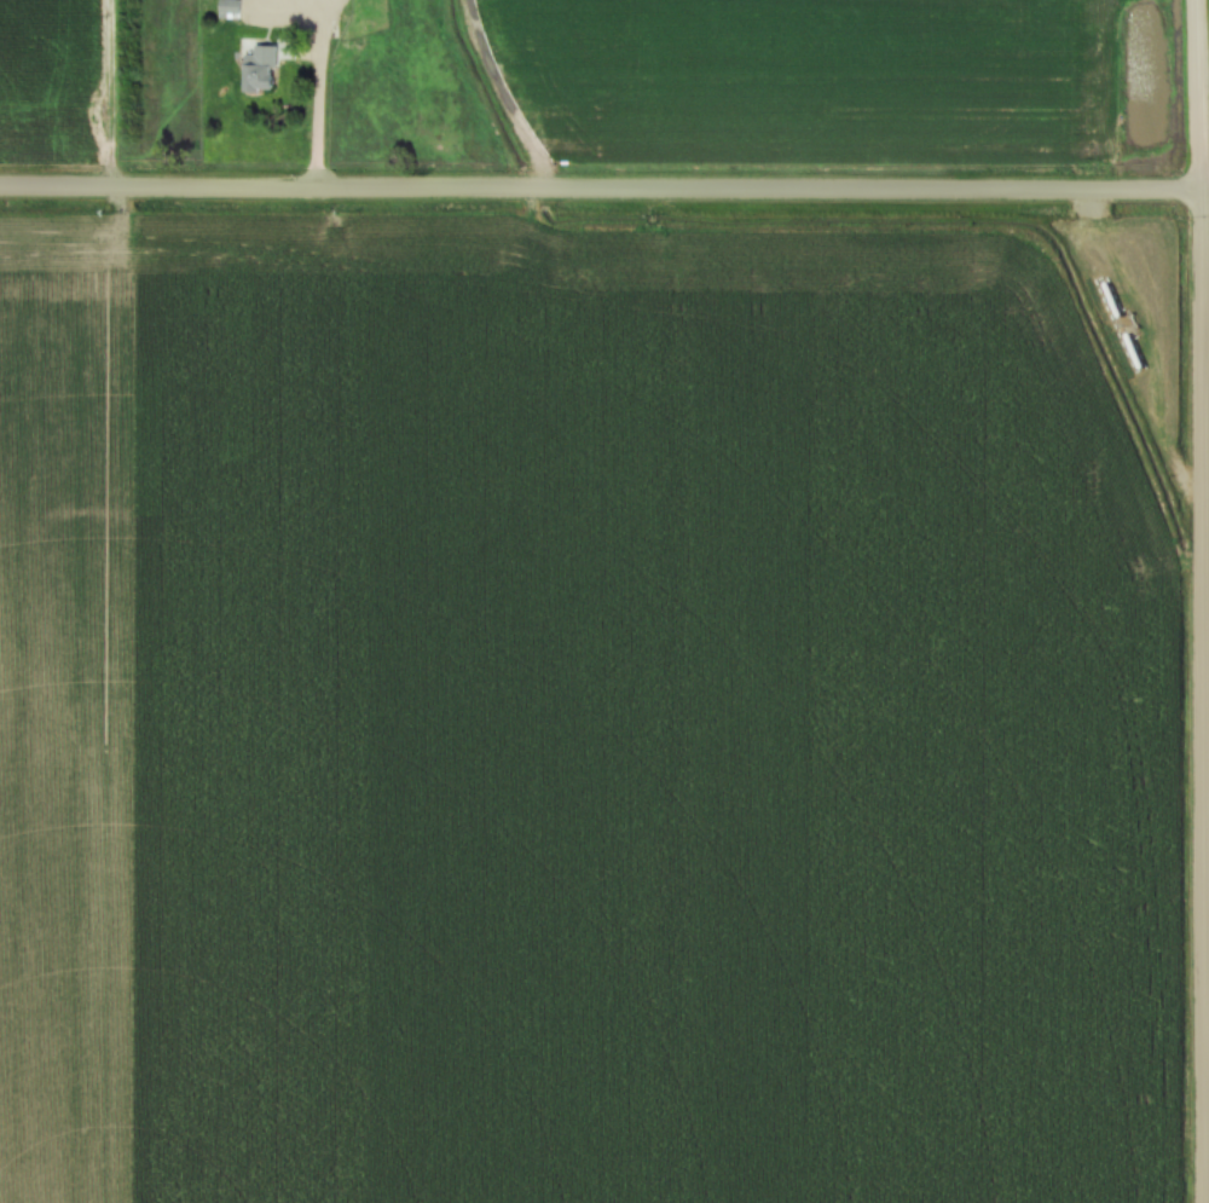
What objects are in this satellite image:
building: (229, 5)
building: (261, 66)
crop: (50, 77)
crop: (804, 79)
road: (319, 91)
road: (604, 190)
road: (1203, 601)
crop: (586, 712)

